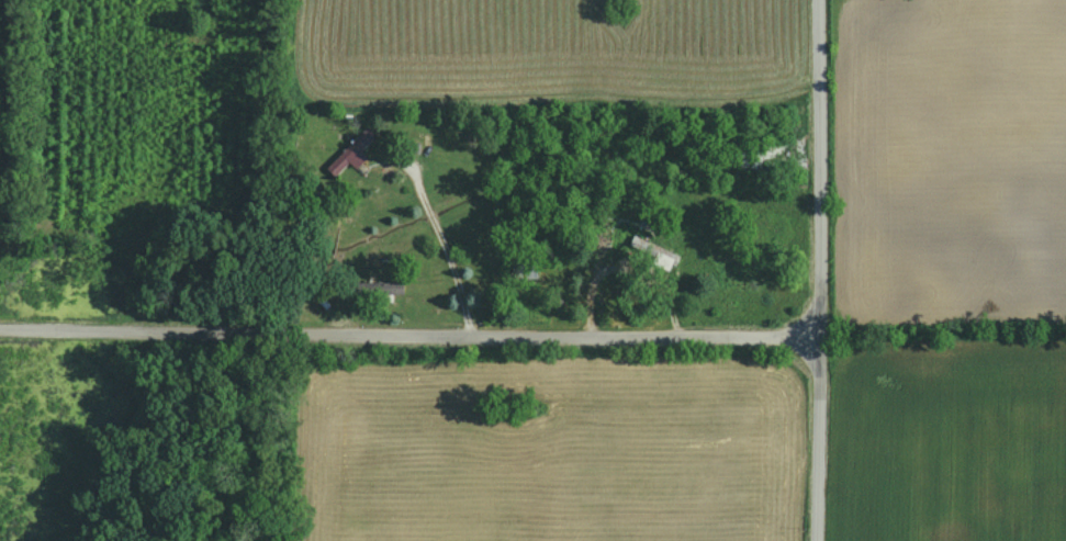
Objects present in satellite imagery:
building: (346, 159)
road: (442, 243)
building: (667, 260)
road: (818, 270)
building: (373, 289)
road: (407, 338)

